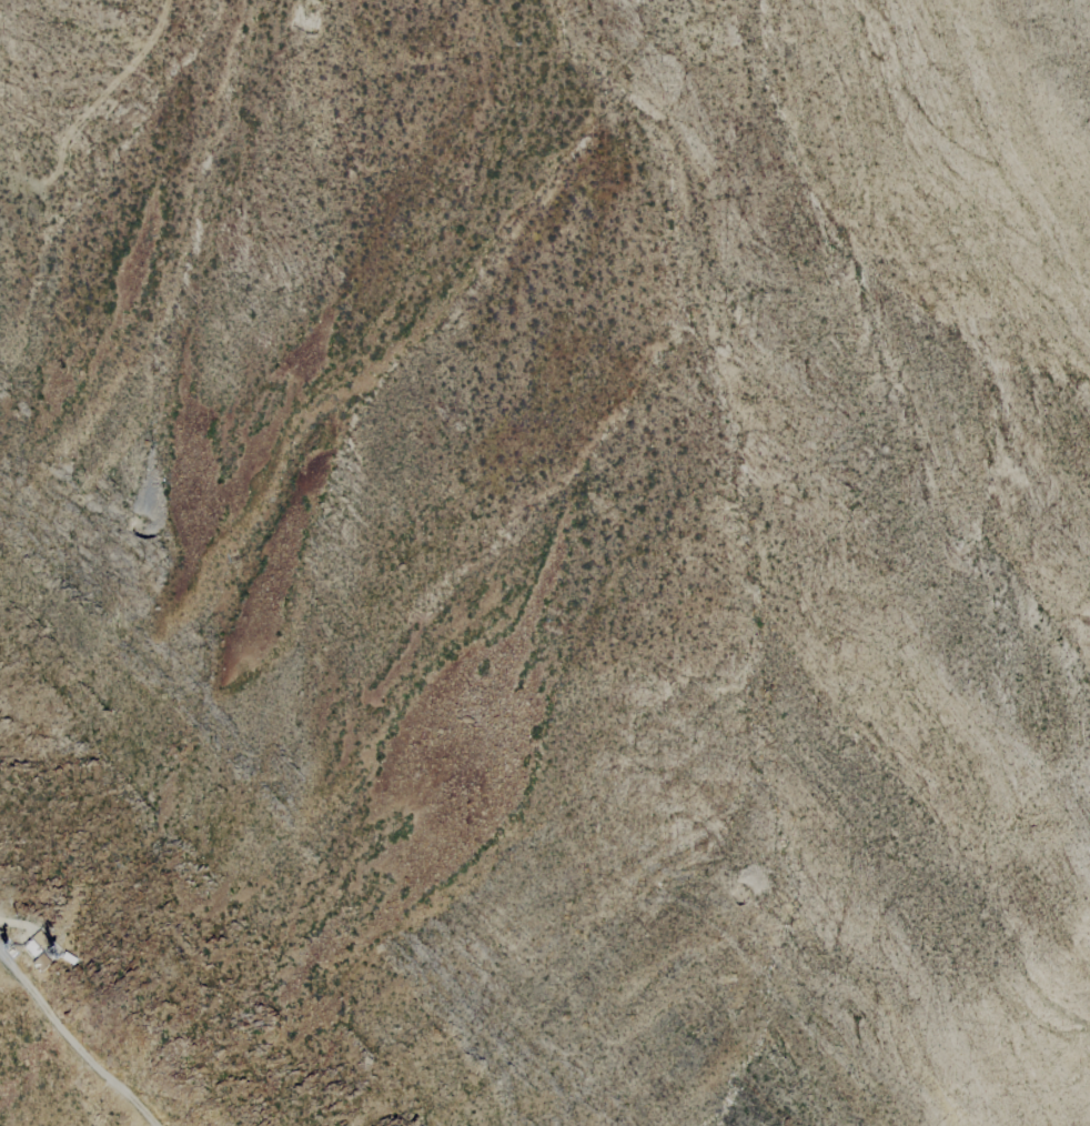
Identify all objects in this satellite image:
road: (68, 1046)

